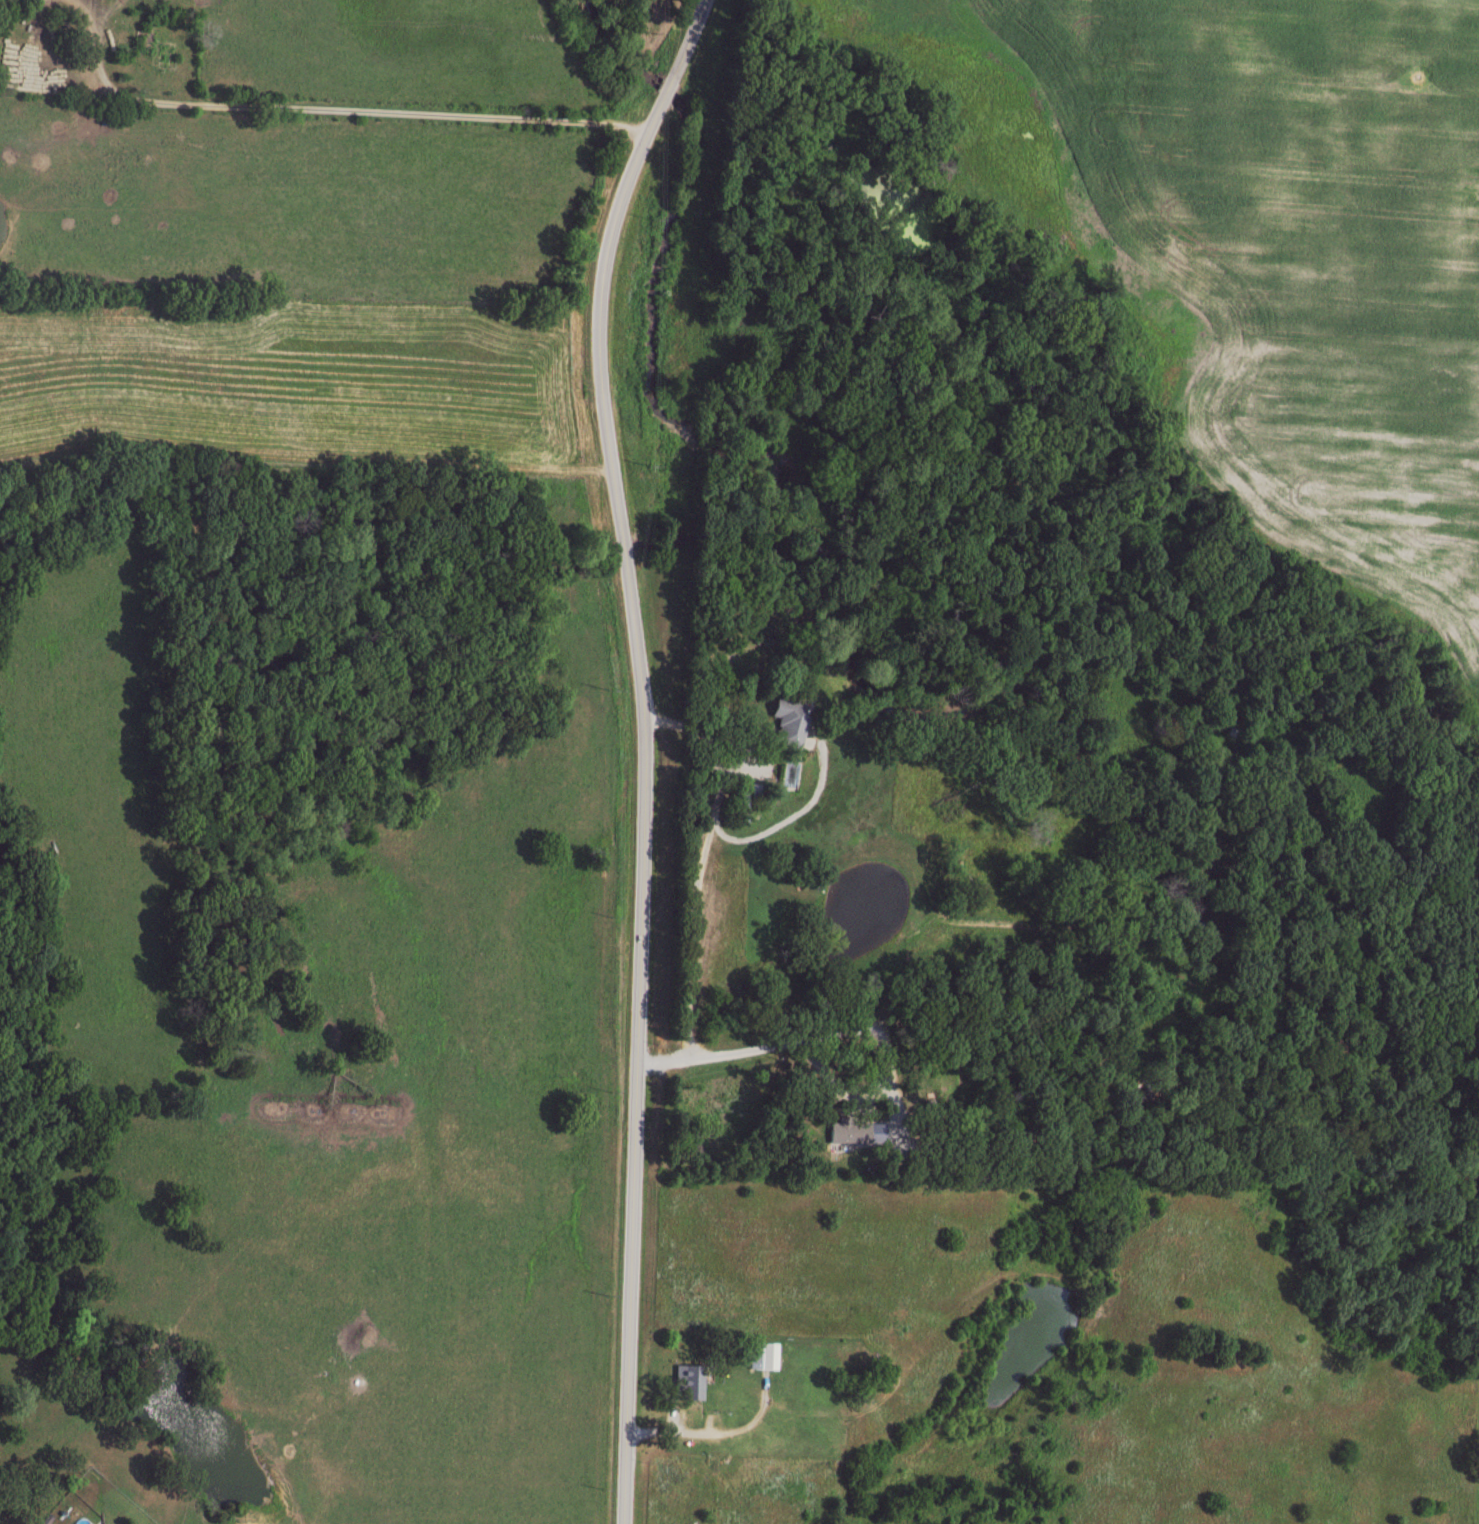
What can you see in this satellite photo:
road: (334, 107)
building: (787, 719)
road: (705, 730)
road: (648, 750)
road: (844, 1029)
building: (854, 1128)
building: (762, 1352)
building: (686, 1378)
road: (716, 1423)
building: (101, 1523)

